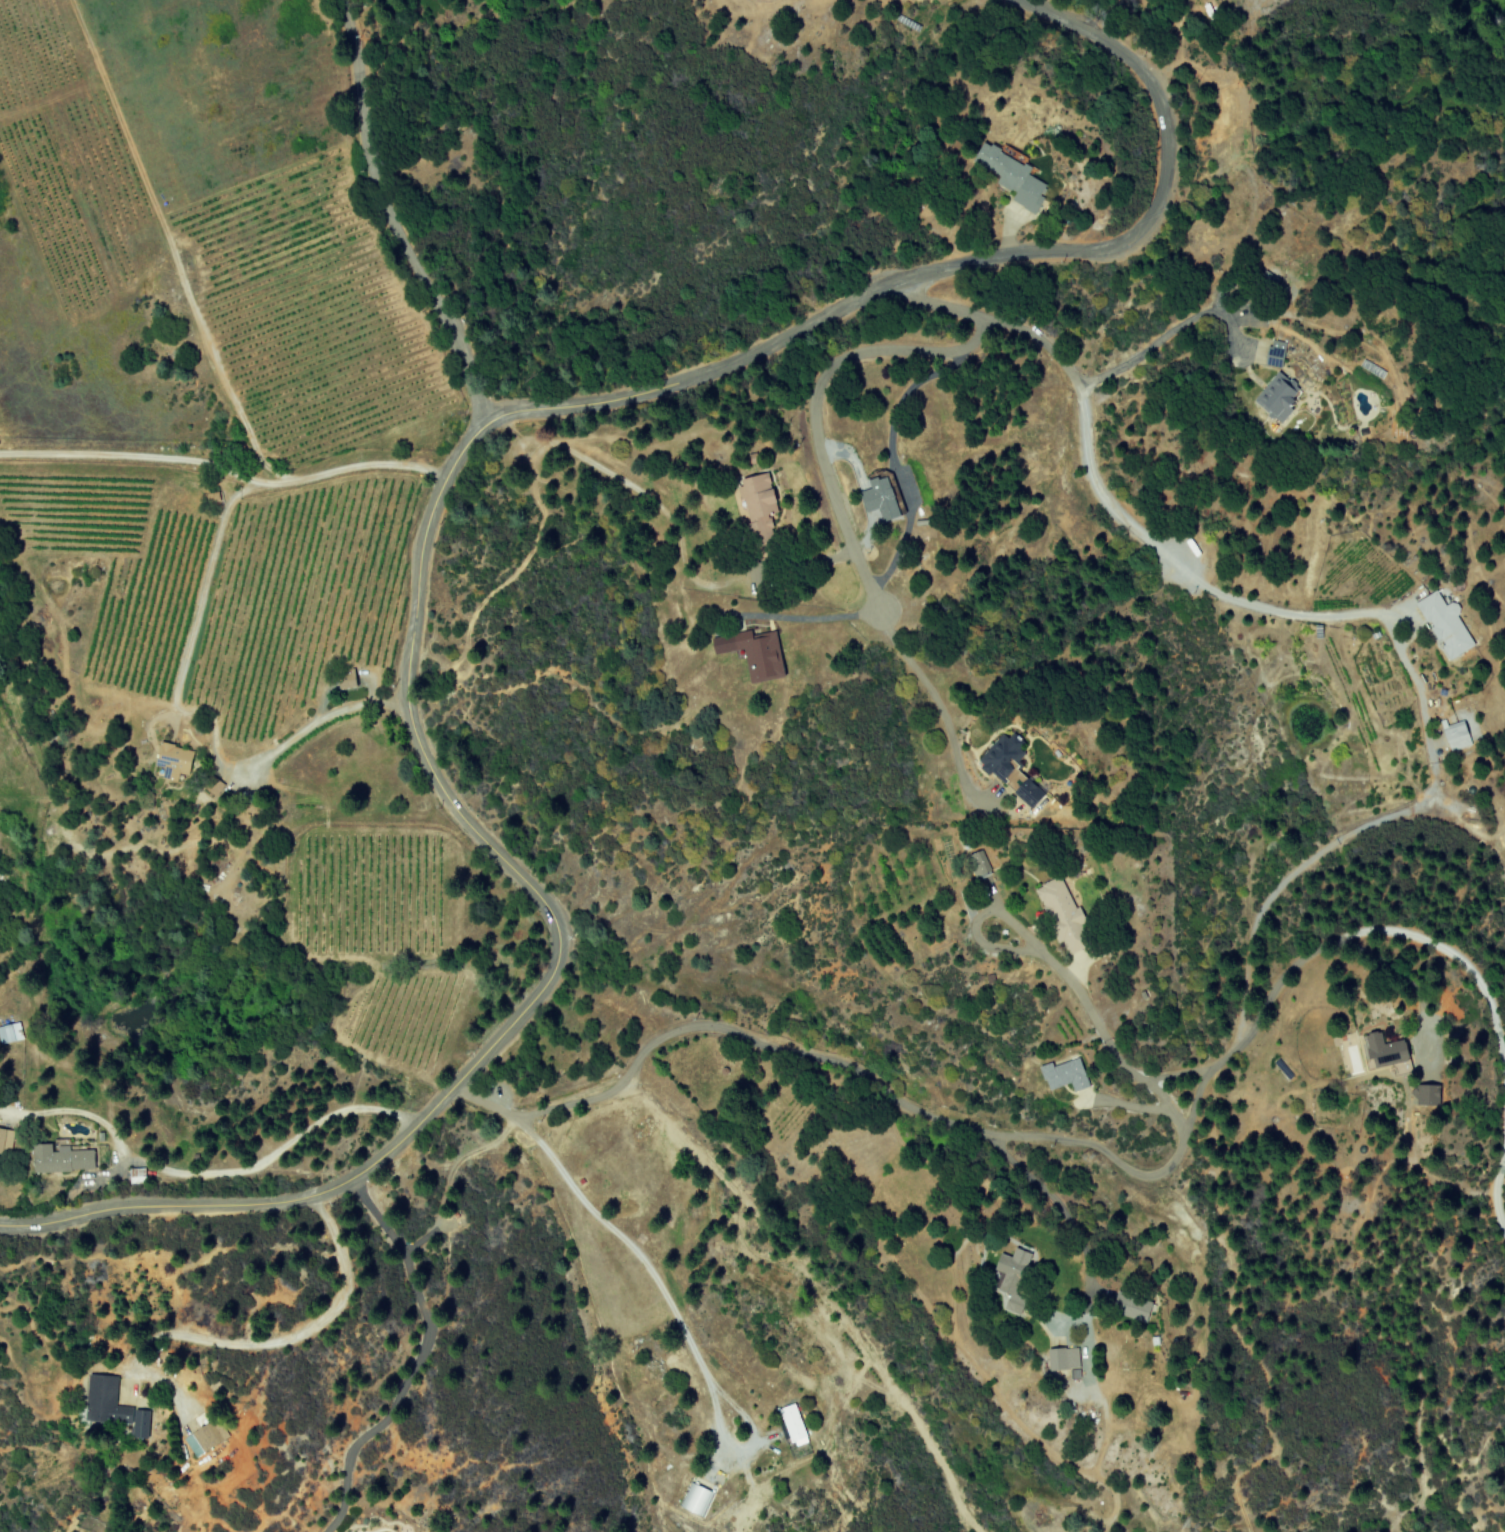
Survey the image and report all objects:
building: (1010, 176)
road: (390, 217)
crop: (607, 294)
road: (1163, 335)
building: (1275, 353)
crop: (102, 377)
road: (1073, 381)
road: (902, 392)
building: (1277, 397)
road: (811, 405)
road: (524, 409)
road: (132, 461)
crop: (260, 464)
road: (235, 495)
building: (877, 499)
building: (754, 502)
road: (814, 616)
building: (1445, 626)
building: (752, 653)
building: (345, 680)
road: (940, 711)
road: (306, 726)
building: (1455, 736)
building: (170, 763)
road: (1431, 769)
building: (1009, 770)
building: (974, 862)
building: (1061, 913)
road: (1067, 982)
building: (9, 1032)
building: (1381, 1049)
building: (1063, 1074)
building: (1422, 1094)
road: (1129, 1105)
building: (5, 1140)
road: (267, 1156)
building: (59, 1159)
road: (1133, 1173)
building: (136, 1175)
road: (447, 1176)
road: (173, 1203)
road: (1083, 1246)
building: (1010, 1277)
road: (671, 1308)
road: (282, 1342)
building: (1061, 1358)
road: (416, 1359)
building: (111, 1406)
building: (790, 1422)
building: (203, 1438)
building: (695, 1499)

